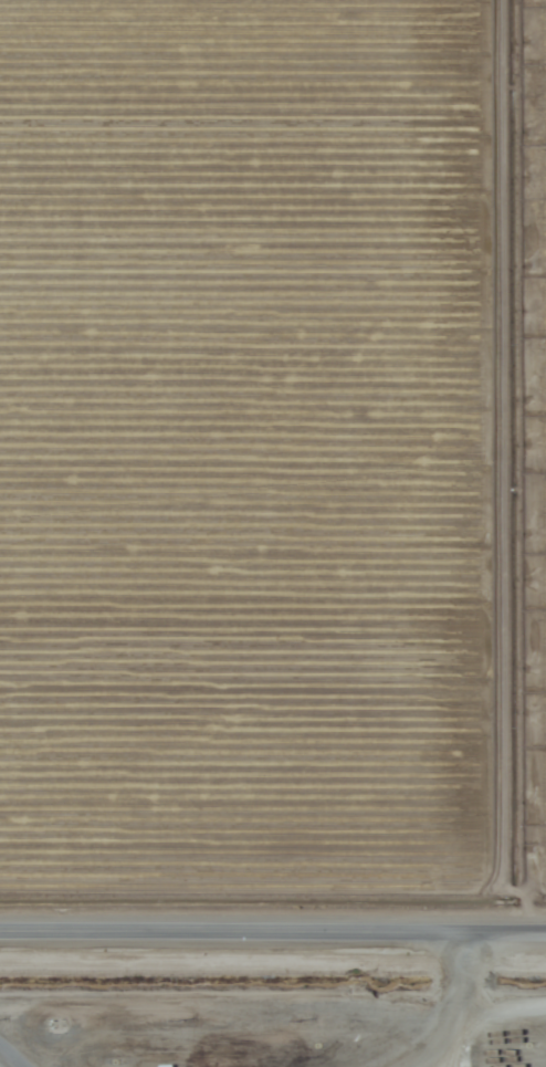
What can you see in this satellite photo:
road: (273, 933)

